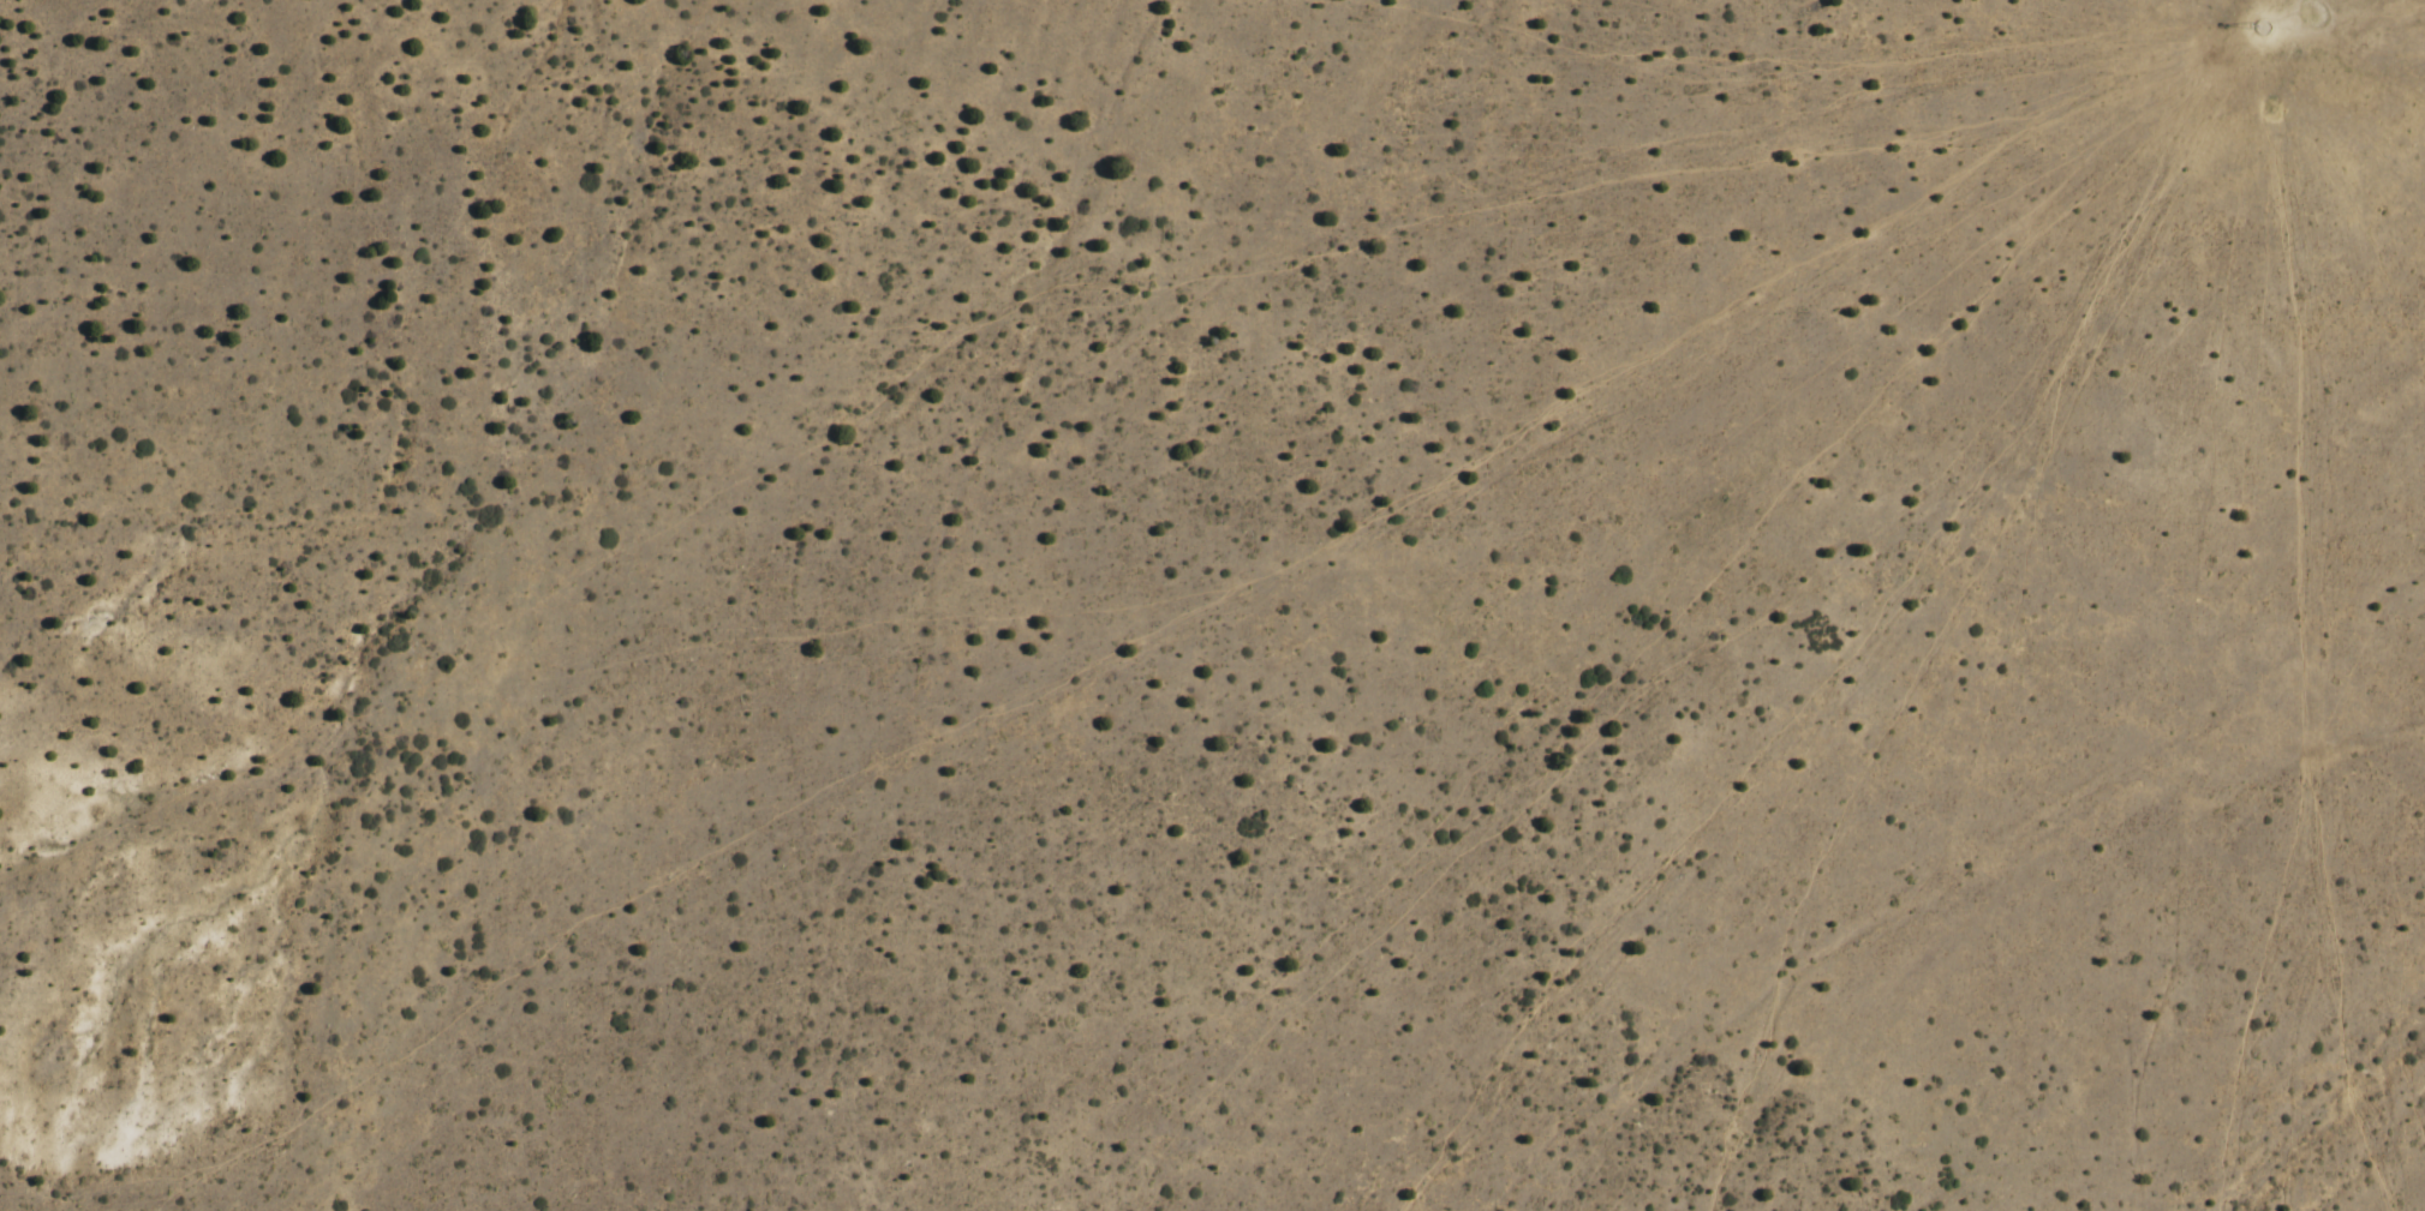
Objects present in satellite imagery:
road: (1799, 10)
road: (2352, 1139)

